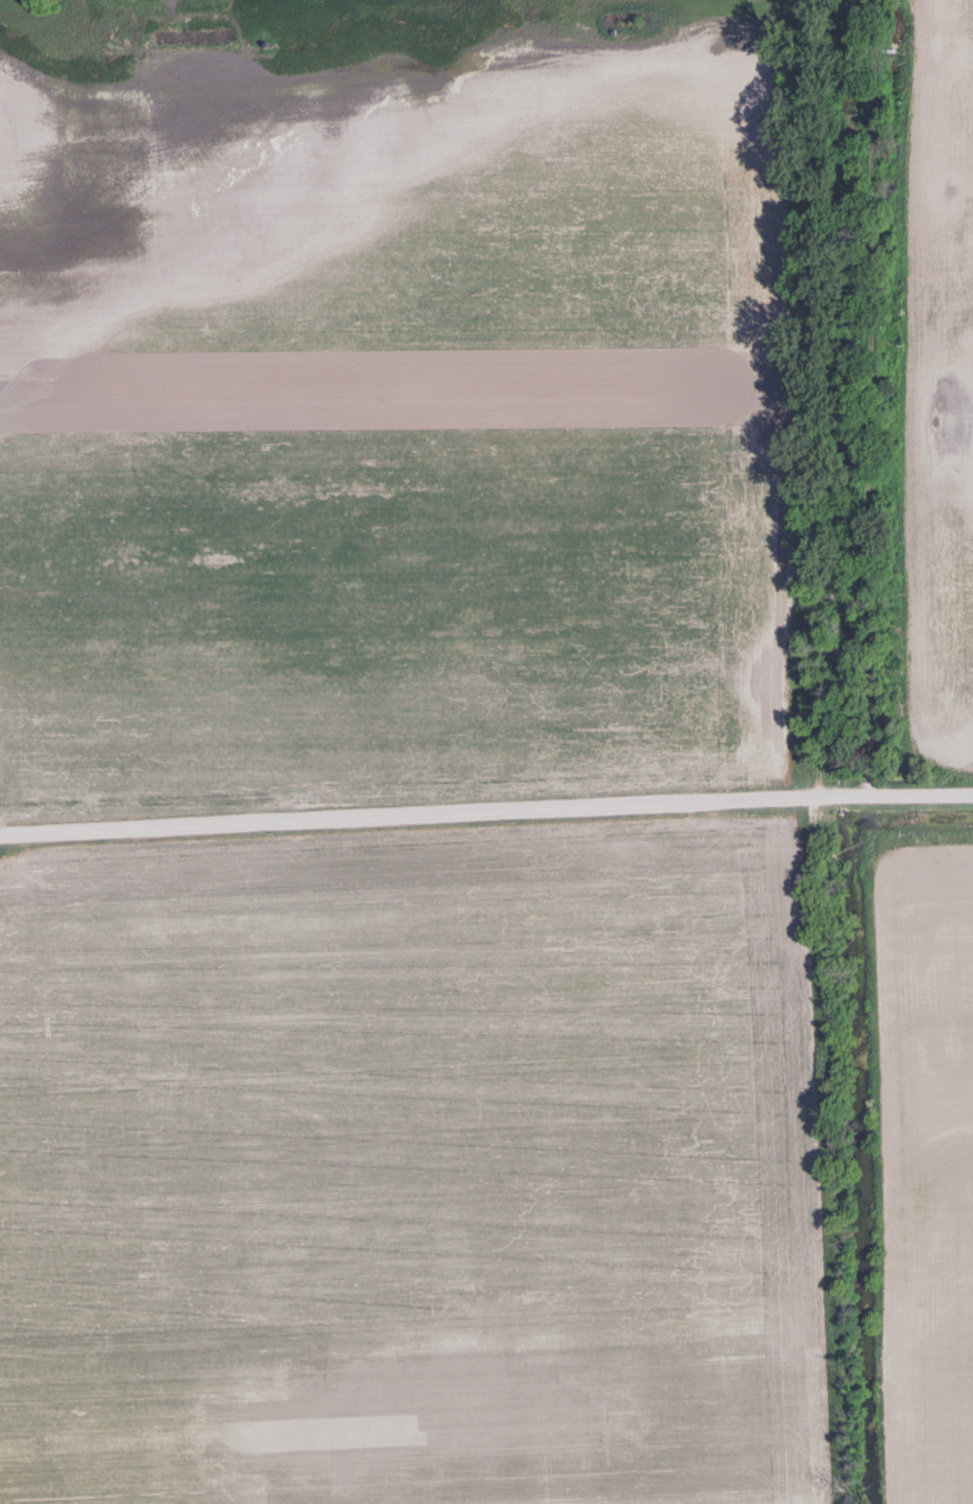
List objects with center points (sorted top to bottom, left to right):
road: (910, 797)
road: (423, 815)

